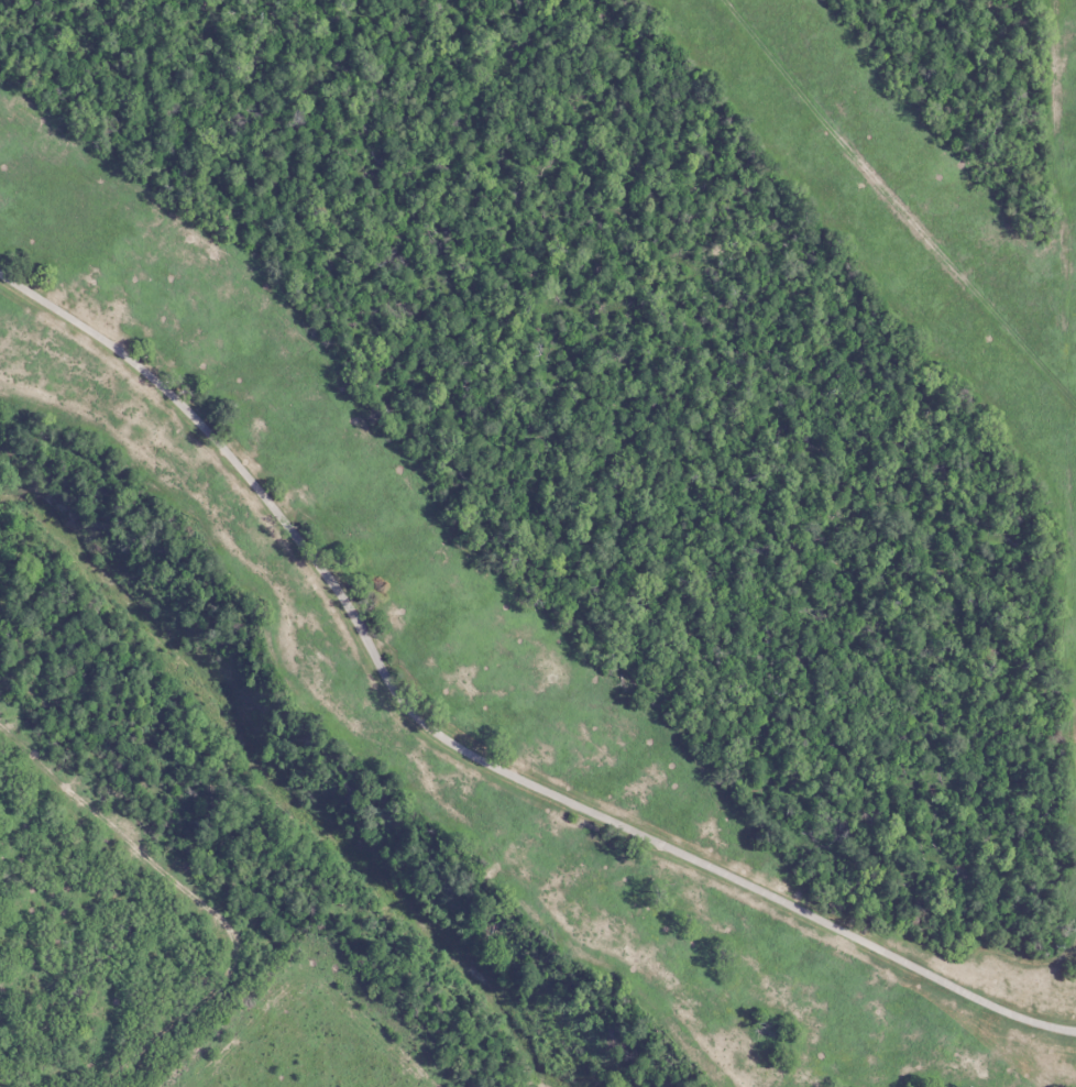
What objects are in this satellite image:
road: (867, 228)
road: (469, 754)
river: (277, 790)

